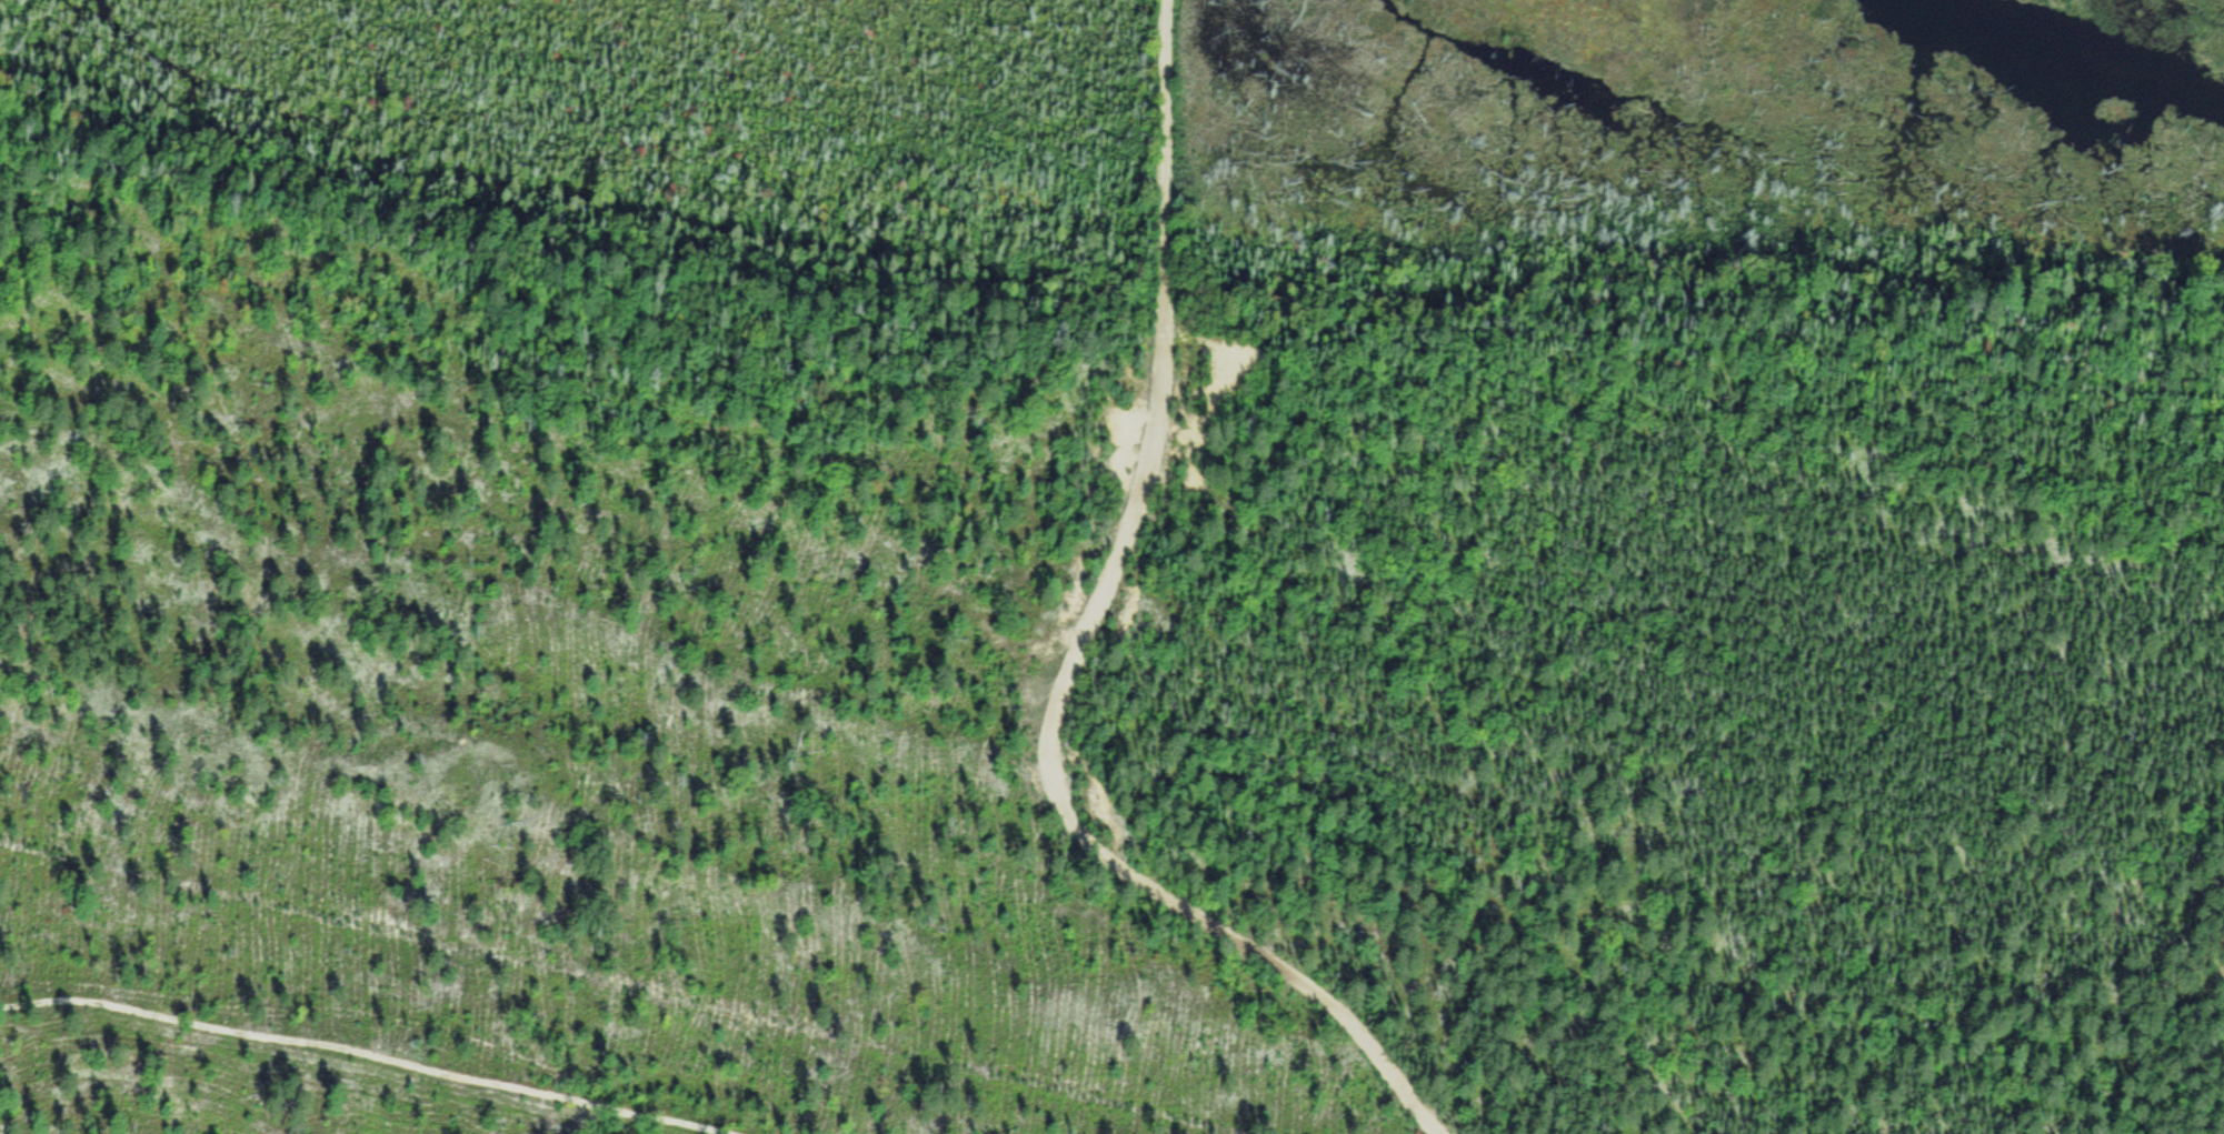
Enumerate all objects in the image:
road: (1071, 654)
road: (312, 1075)

